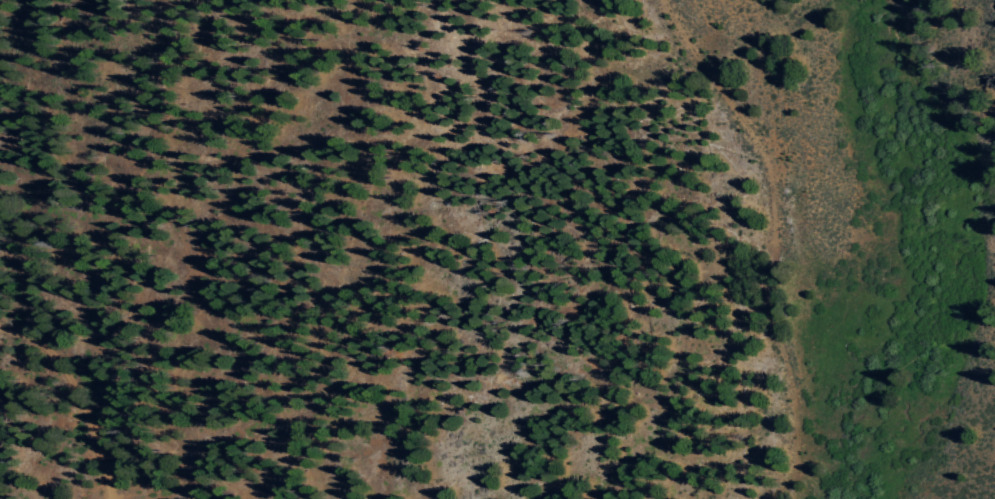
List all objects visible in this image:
road: (771, 235)
road: (73, 397)

